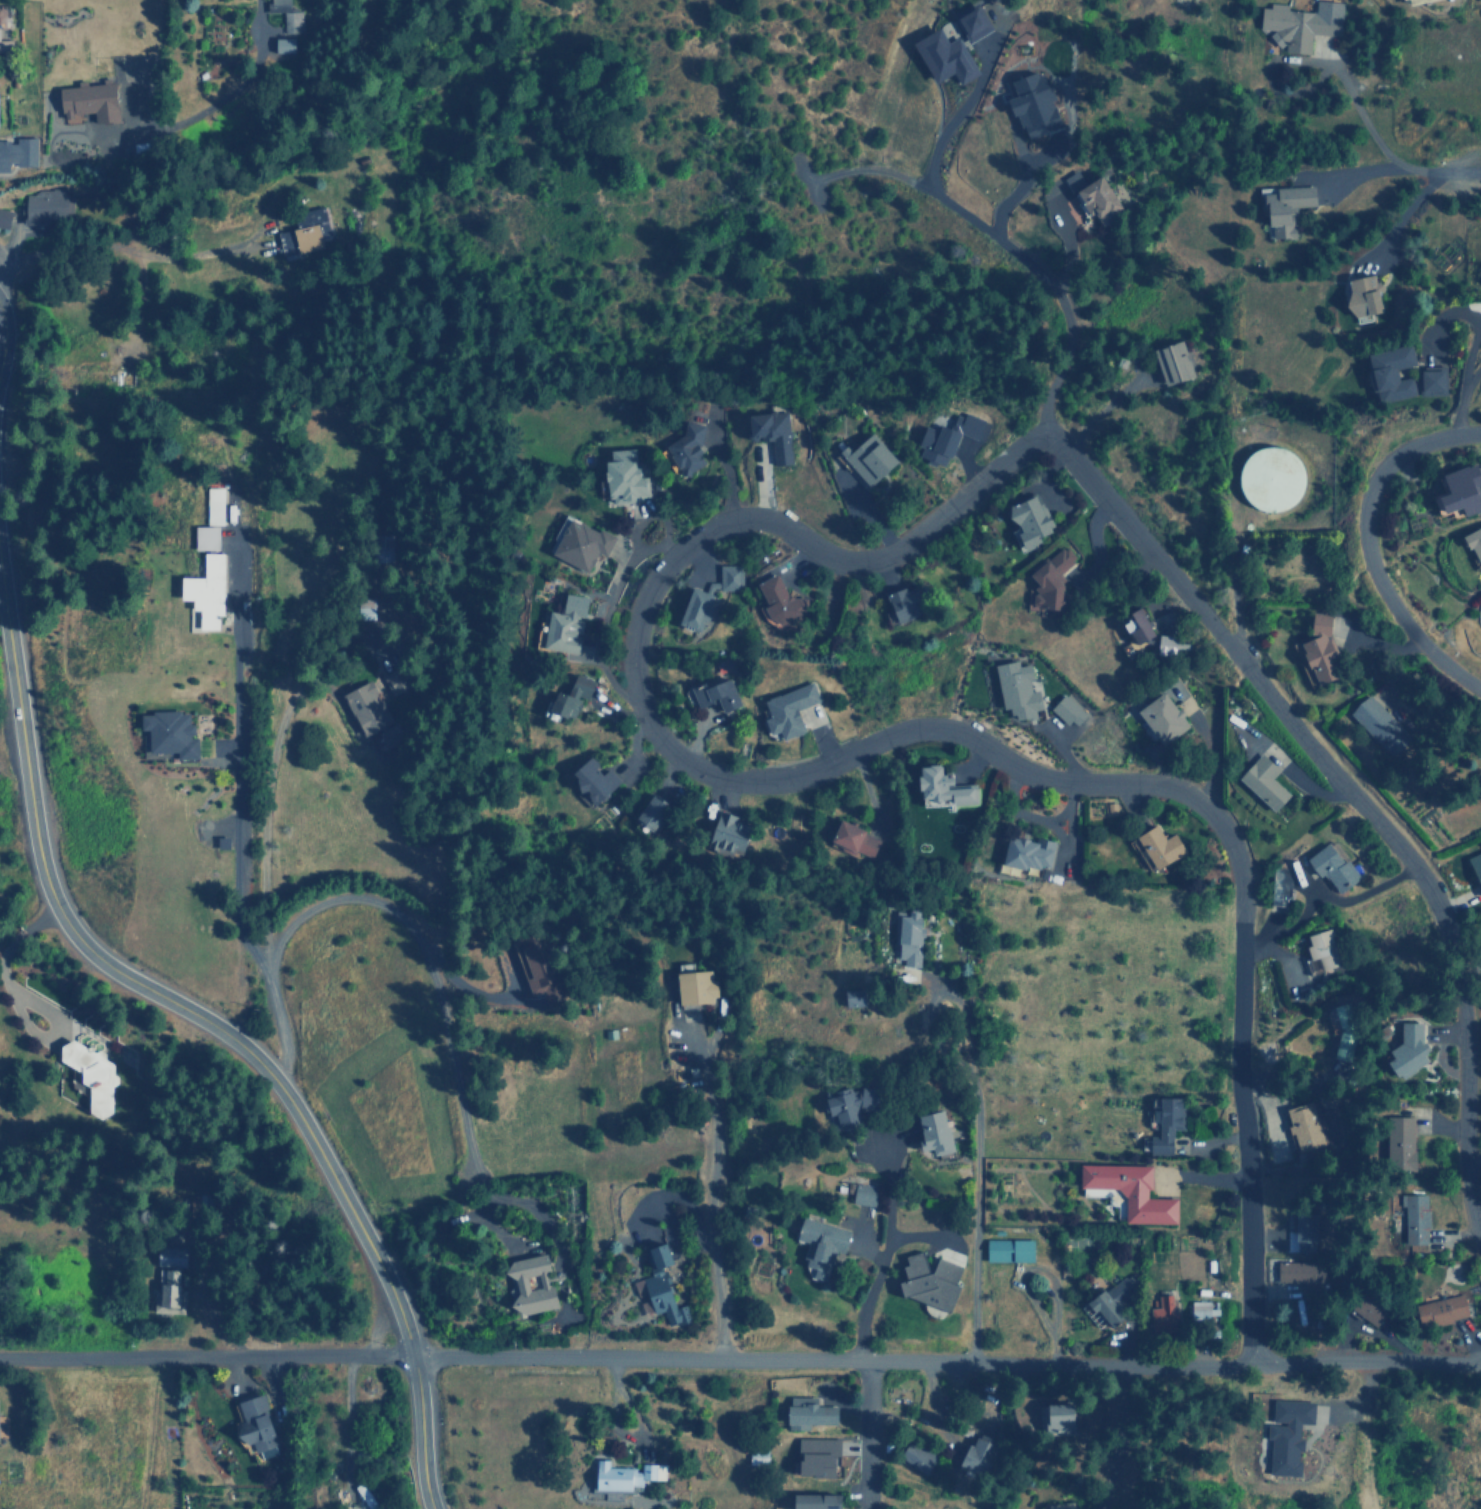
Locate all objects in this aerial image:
building: (1402, 1)
building: (1411, 1)
road: (262, 22)
building: (1298, 25)
road: (1341, 88)
road: (200, 109)
road: (1453, 169)
building: (1279, 208)
road: (1002, 243)
road: (122, 251)
road: (0, 255)
building: (1365, 294)
road: (1475, 335)
building: (1390, 372)
road: (1471, 375)
building: (1431, 381)
building: (1267, 478)
storage tank: (1267, 478)
building: (1461, 489)
building: (1474, 540)
road: (1366, 544)
road: (1228, 595)
road: (635, 610)
building: (1315, 650)
building: (1378, 724)
road: (233, 762)
road: (261, 817)
road: (391, 909)
road: (1440, 915)
road: (220, 1029)
road: (1237, 1108)
road: (1471, 1155)
road: (709, 1224)
road: (874, 1262)
road: (205, 1357)
road: (945, 1357)
road: (1121, 1413)
road: (864, 1424)

